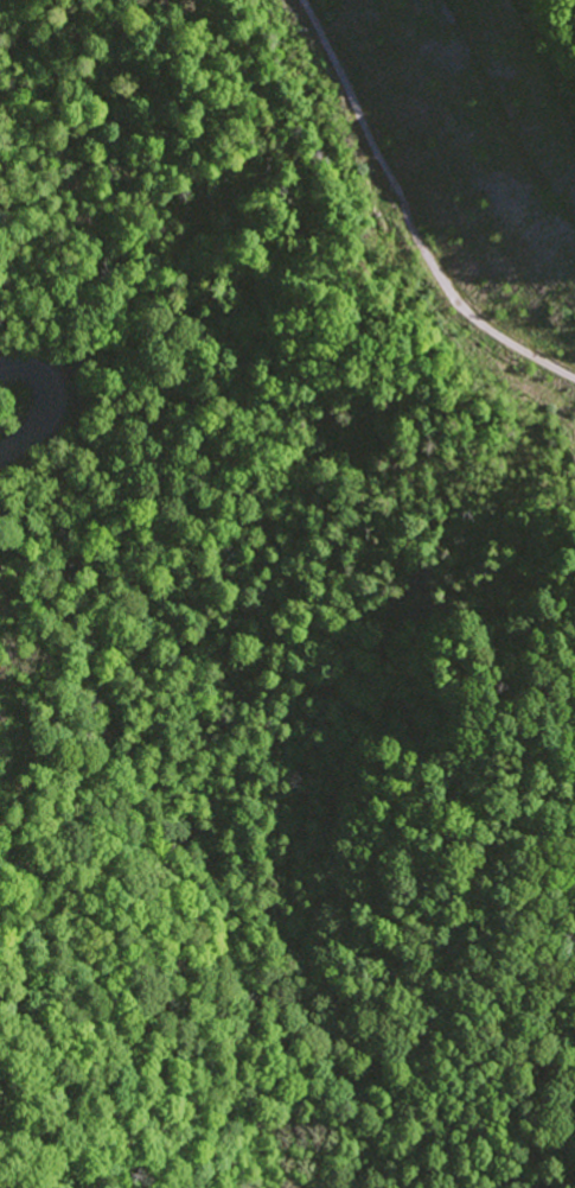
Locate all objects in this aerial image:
road: (52, 405)

